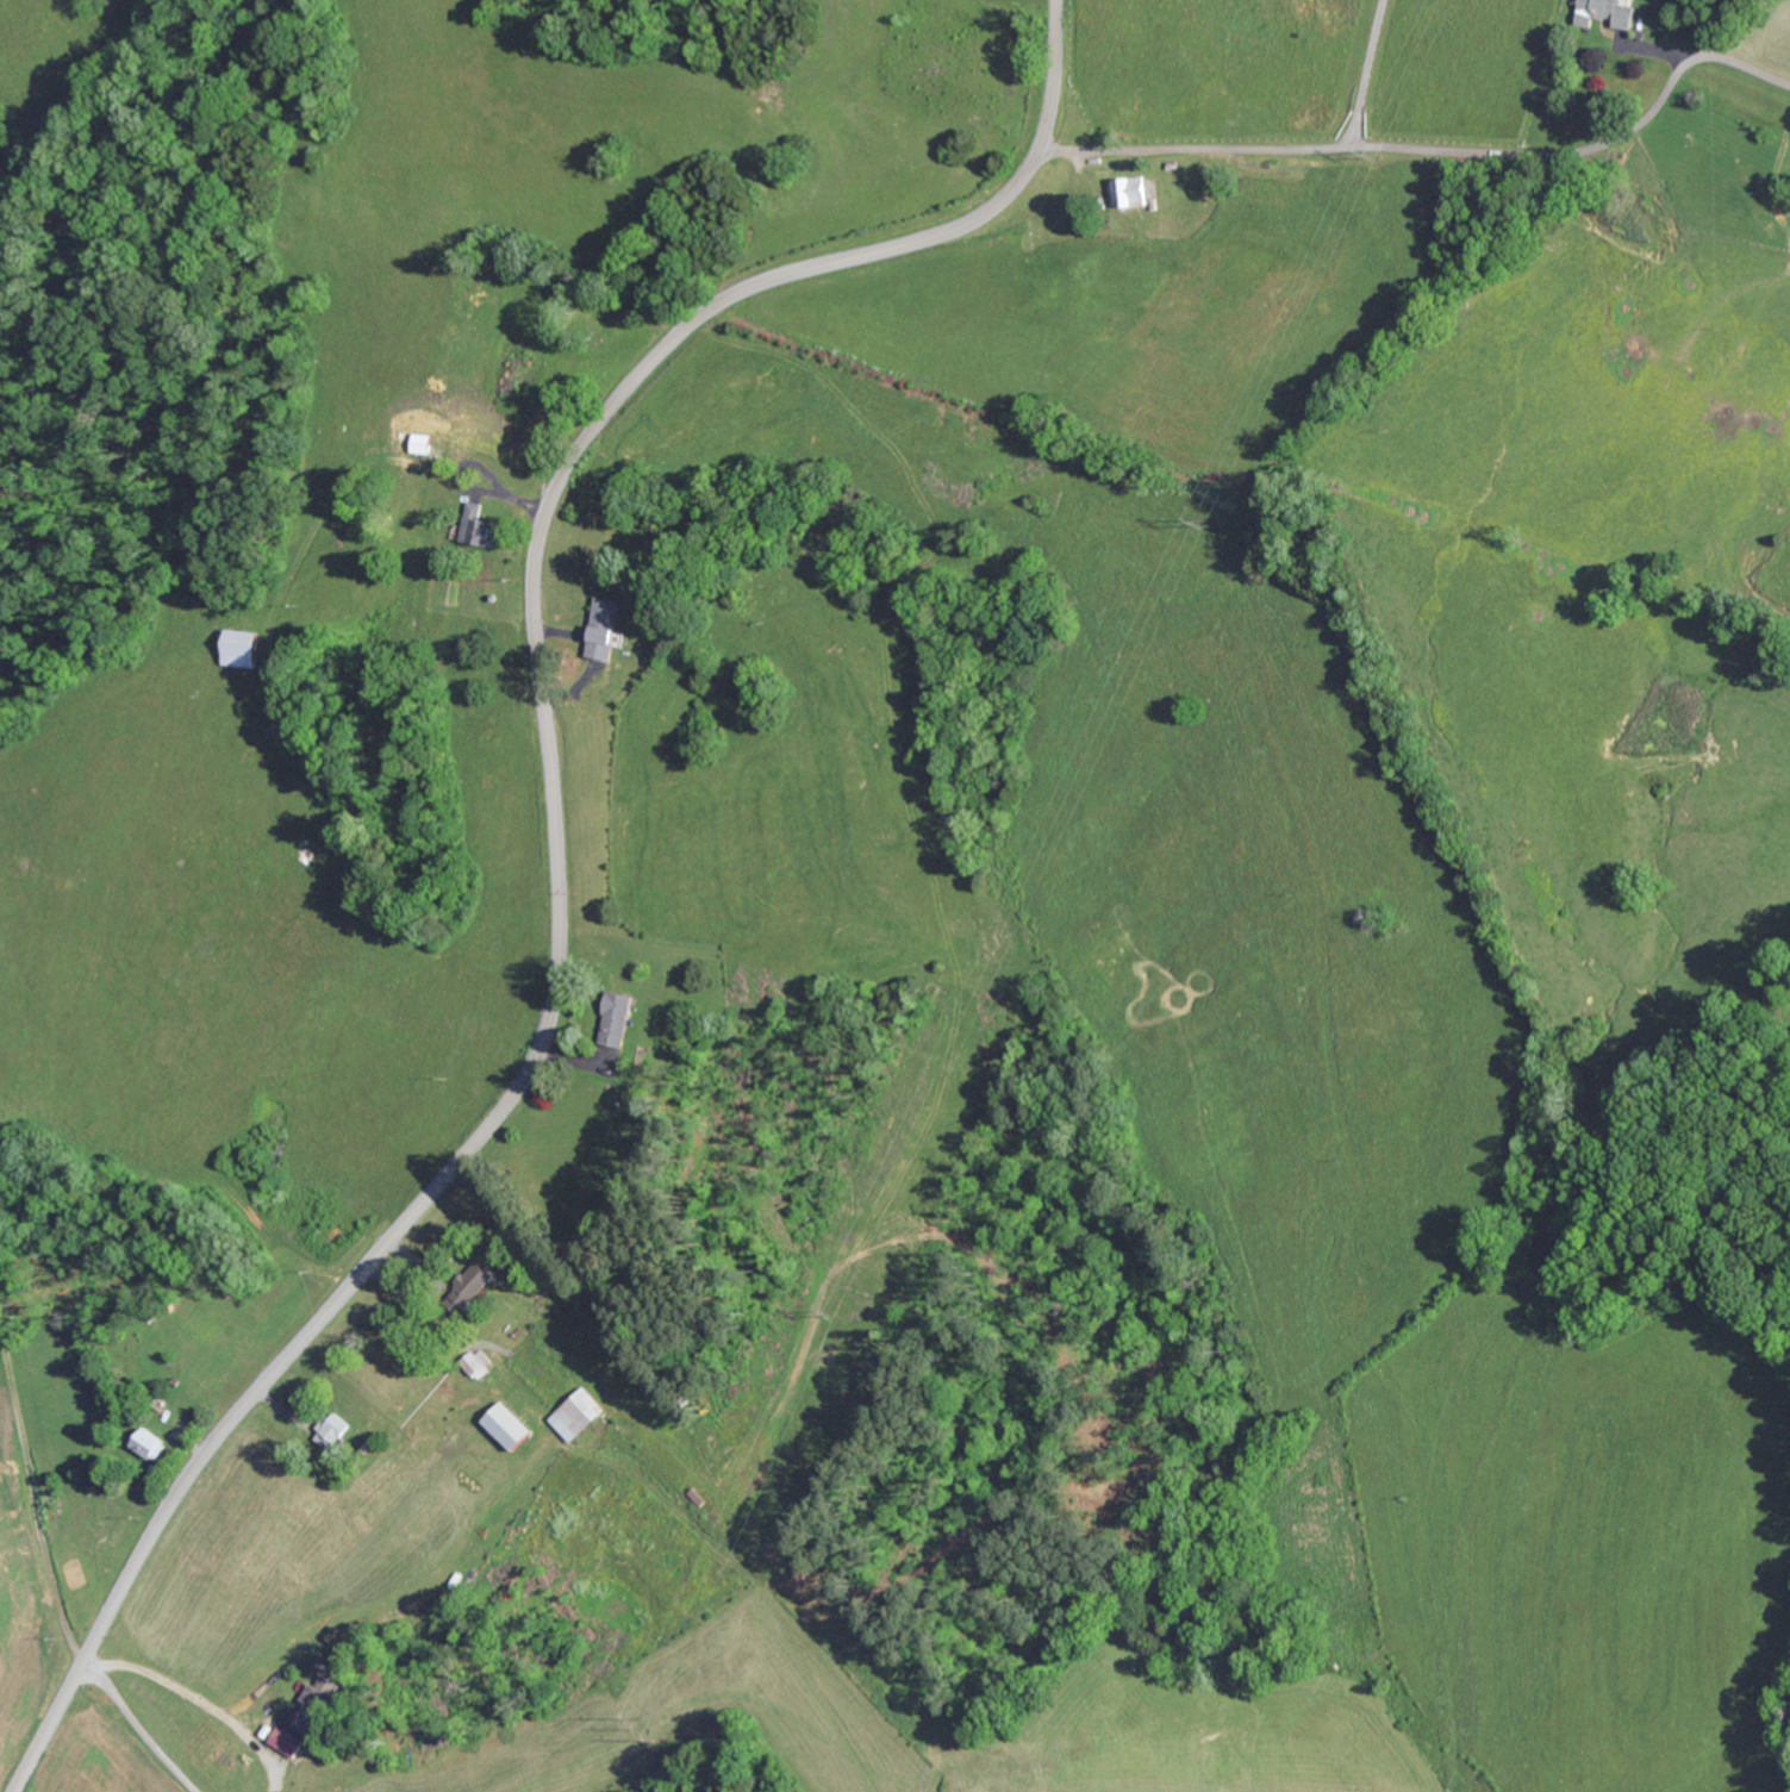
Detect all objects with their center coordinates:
building: (1608, 12)
road: (1432, 149)
power tower: (1373, 158)
building: (1133, 191)
building: (422, 442)
power tower: (1204, 520)
building: (480, 526)
building: (607, 626)
building: (244, 648)
road: (554, 843)
building: (619, 1018)
building: (479, 1279)
power tower: (837, 1310)
building: (481, 1361)
building: (579, 1413)
building: (511, 1424)
building: (152, 1443)
road: (32, 1494)
building: (319, 1703)
road: (138, 1727)
power tower: (648, 1728)
building: (291, 1741)

